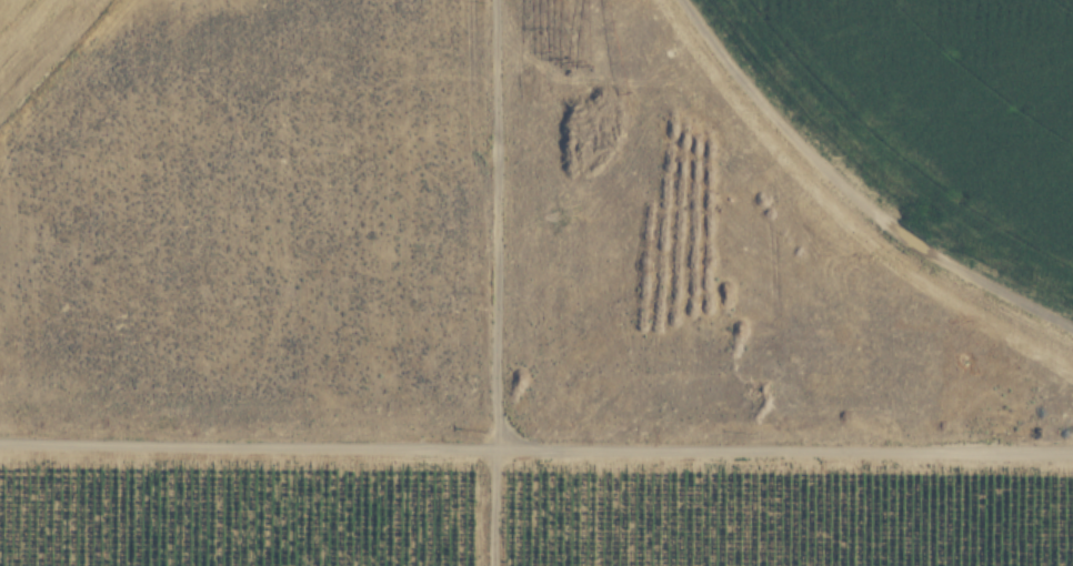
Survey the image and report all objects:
crop: (22, 27)
crop: (934, 128)

